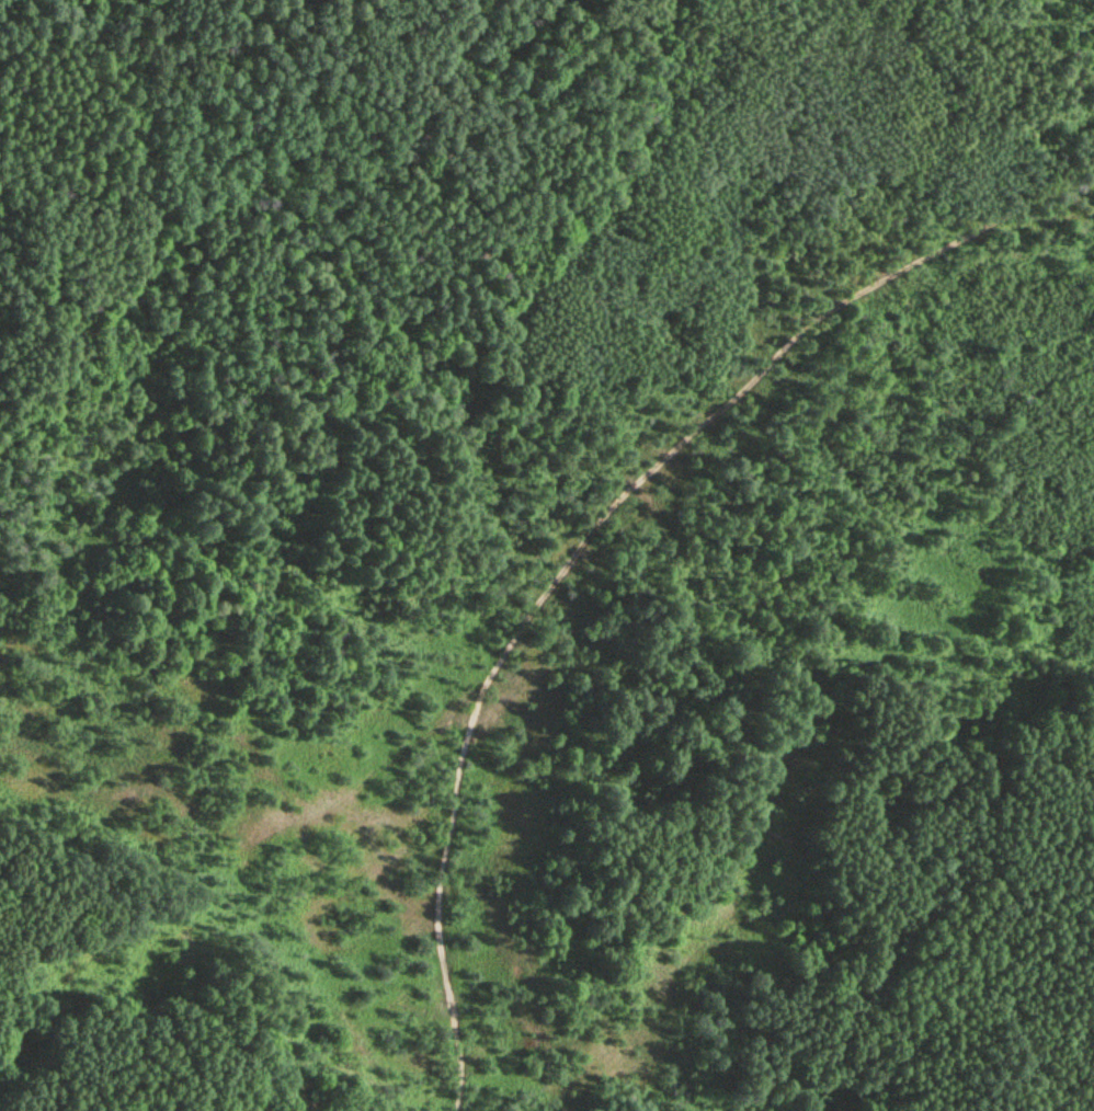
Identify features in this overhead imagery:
road: (589, 522)
road: (685, 661)

